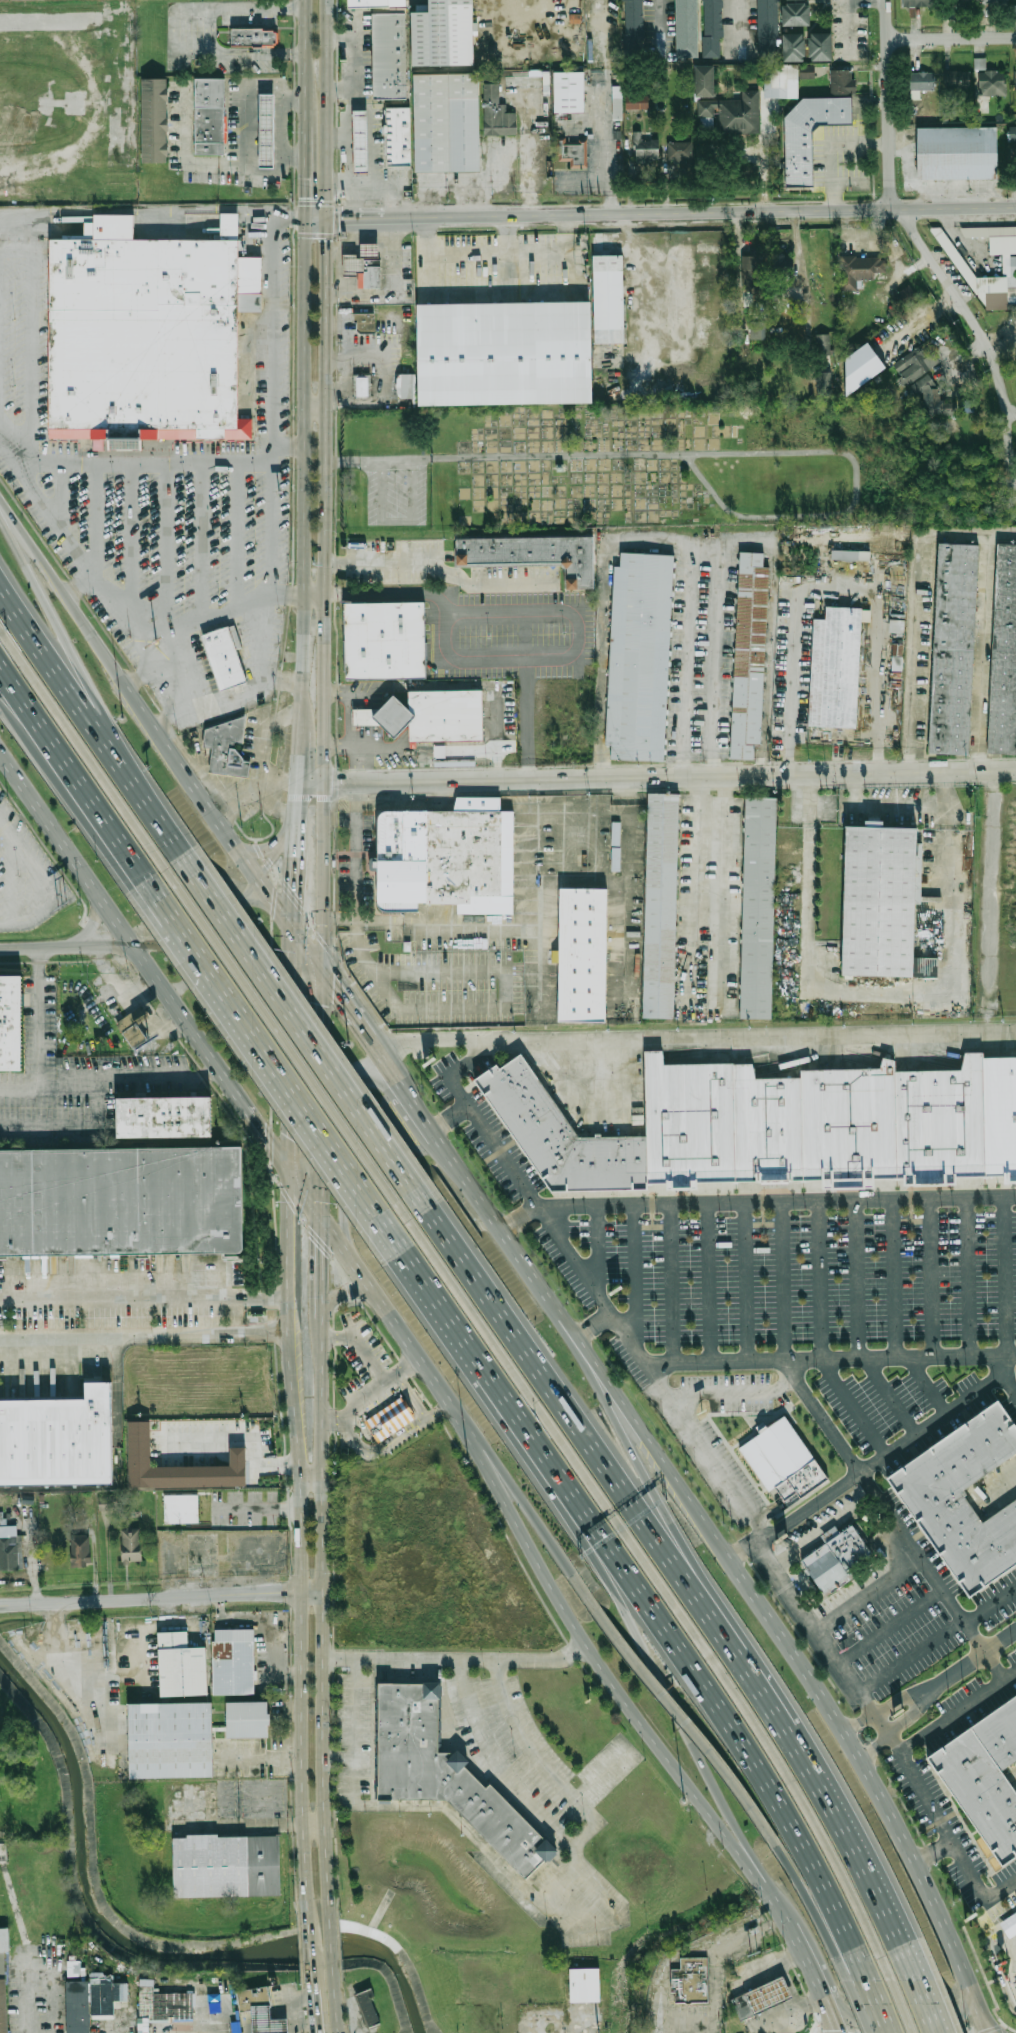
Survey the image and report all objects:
building: (798, 2)
building: (917, 3)
building: (996, 3)
road: (524, 4)
building: (376, 6)
building: (955, 6)
building: (1014, 10)
building: (634, 19)
building: (799, 19)
road: (655, 23)
road: (736, 24)
road: (847, 28)
building: (688, 33)
building: (711, 33)
building: (768, 33)
road: (172, 37)
road: (212, 38)
building: (445, 38)
road: (951, 39)
building: (254, 43)
road: (304, 47)
building: (797, 52)
building: (822, 52)
building: (391, 63)
building: (806, 71)
building: (989, 77)
building: (1015, 78)
building: (957, 80)
building: (922, 81)
building: (705, 87)
building: (843, 87)
building: (783, 88)
road: (246, 92)
building: (571, 98)
road: (94, 100)
building: (636, 101)
road: (352, 102)
road: (531, 106)
road: (608, 107)
building: (639, 108)
building: (619, 109)
building: (208, 115)
building: (734, 119)
building: (498, 120)
building: (387, 122)
building: (262, 126)
gas station: (262, 126)
building: (153, 127)
building: (447, 129)
building: (1012, 132)
road: (280, 137)
building: (811, 139)
building: (399, 142)
building: (362, 148)
gas station: (362, 148)
road: (833, 149)
building: (959, 150)
road: (346, 151)
building: (387, 151)
road: (185, 152)
building: (647, 154)
building: (682, 156)
road: (303, 157)
building: (574, 158)
road: (267, 170)
road: (534, 174)
road: (387, 189)
road: (354, 190)
traffic signals: (303, 202)
road: (156, 209)
road: (708, 212)
road: (19, 213)
road: (288, 221)
traffic signals: (291, 221)
traffic signals: (344, 223)
road: (351, 223)
traffic signals: (328, 248)
road: (552, 250)
road: (466, 252)
building: (371, 256)
gas station: (371, 256)
road: (925, 259)
building: (963, 262)
building: (352, 270)
gas station: (352, 270)
building: (763, 270)
building: (856, 270)
road: (799, 274)
building: (371, 280)
road: (466, 292)
building: (904, 296)
building: (609, 306)
road: (328, 311)
building: (366, 329)
building: (757, 329)
building: (141, 333)
road: (272, 333)
road: (29, 342)
building: (821, 343)
building: (506, 361)
road: (343, 364)
building: (910, 366)
building: (861, 368)
road: (384, 374)
building: (825, 378)
building: (362, 393)
building: (406, 393)
building: (932, 398)
road: (316, 404)
road: (353, 409)
building: (206, 416)
road: (1011, 416)
building: (158, 438)
road: (289, 445)
road: (304, 451)
road: (508, 457)
road: (152, 462)
park: (651, 468)
road: (63, 496)
road: (857, 498)
parking lot: (397, 501)
road: (336, 510)
road: (95, 516)
road: (396, 521)
road: (64, 530)
road: (270, 530)
road: (969, 535)
road: (236, 537)
road: (131, 540)
road: (200, 540)
road: (658, 542)
road: (166, 545)
road: (29, 546)
building: (850, 555)
building: (535, 561)
parking lot: (393, 567)
road: (442, 574)
road: (80, 582)
parking lot: (517, 582)
road: (315, 598)
road: (217, 615)
road: (552, 616)
road: (770, 633)
road: (93, 634)
parking lot: (516, 642)
road: (64, 645)
building: (387, 647)
building: (952, 649)
building: (226, 653)
building: (752, 655)
road: (915, 655)
road: (981, 655)
building: (642, 656)
building: (1002, 656)
building: (897, 657)
road: (880, 658)
road: (685, 662)
road: (157, 664)
building: (834, 669)
road: (142, 674)
road: (281, 677)
road: (63, 681)
road: (791, 682)
road: (302, 688)
road: (248, 690)
road: (464, 690)
road: (323, 706)
road: (347, 722)
building: (448, 722)
building: (385, 723)
road: (525, 727)
road: (160, 733)
road: (300, 741)
building: (230, 744)
road: (336, 751)
road: (87, 756)
road: (360, 776)
road: (63, 779)
road: (78, 782)
road: (670, 782)
road: (311, 788)
road: (669, 790)
road: (298, 802)
road: (210, 805)
road: (884, 809)
road: (162, 825)
road: (291, 827)
road: (65, 846)
road: (262, 849)
road: (356, 852)
road: (271, 856)
building: (448, 859)
road: (295, 871)
road: (611, 879)
road: (324, 881)
road: (34, 883)
road: (699, 898)
road: (722, 898)
road: (275, 900)
traffic signals: (294, 900)
building: (880, 902)
road: (991, 902)
building: (659, 905)
building: (757, 908)
road: (92, 922)
road: (494, 922)
road: (201, 925)
road: (91, 944)
road: (121, 945)
road: (35, 947)
road: (36, 953)
building: (585, 953)
road: (406, 974)
traffic signals: (332, 985)
road: (882, 993)
traffic signals: (324, 1005)
road: (347, 1006)
road: (430, 1012)
road: (36, 1020)
building: (9, 1022)
building: (132, 1027)
road: (305, 1031)
road: (779, 1033)
road: (457, 1040)
road: (289, 1044)
road: (285, 1045)
road: (266, 1059)
road: (391, 1070)
road: (210, 1071)
road: (147, 1078)
road: (65, 1080)
road: (322, 1093)
road: (349, 1093)
building: (162, 1116)
road: (446, 1116)
road: (398, 1120)
building: (828, 1121)
road: (69, 1126)
traffic signals: (264, 1132)
road: (434, 1132)
building: (559, 1135)
traffic signals: (287, 1136)
road: (276, 1148)
road: (478, 1196)
building: (119, 1201)
road: (775, 1203)
road: (518, 1219)
traffic signals: (321, 1251)
road: (595, 1252)
road: (321, 1255)
road: (634, 1276)
road: (1004, 1276)
road: (970, 1277)
road: (930, 1278)
parking lot: (806, 1279)
road: (893, 1279)
road: (821, 1280)
road: (857, 1280)
road: (782, 1281)
road: (746, 1282)
road: (710, 1283)
road: (538, 1284)
road: (670, 1284)
road: (122, 1288)
road: (344, 1293)
road: (266, 1297)
road: (322, 1310)
road: (322, 1329)
road: (592, 1329)
road: (265, 1331)
road: (122, 1336)
road: (360, 1346)
road: (473, 1356)
road: (829, 1358)
parking lot: (367, 1370)
road: (650, 1380)
road: (1007, 1381)
road: (928, 1384)
road: (731, 1390)
road: (369, 1391)
road: (411, 1394)
road: (890, 1395)
road: (562, 1403)
parking lot: (883, 1403)
road: (448, 1404)
road: (852, 1407)
road: (437, 1410)
building: (391, 1419)
road: (421, 1420)
road: (352, 1434)
road: (246, 1437)
building: (59, 1438)
road: (391, 1442)
building: (141, 1456)
road: (872, 1461)
building: (781, 1462)
road: (494, 1468)
road: (489, 1469)
road: (310, 1475)
road: (642, 1479)
building: (962, 1497)
building: (181, 1506)
road: (882, 1507)
road: (260, 1508)
road: (878, 1526)
road: (820, 1529)
building: (828, 1534)
road: (828, 1534)
road: (297, 1536)
road: (810, 1544)
building: (130, 1545)
building: (80, 1550)
road: (557, 1550)
road: (904, 1551)
building: (11, 1553)
building: (834, 1557)
building: (837, 1583)
road: (666, 1591)
road: (867, 1596)
road: (162, 1598)
road: (988, 1606)
road: (324, 1621)
road: (889, 1629)
road: (909, 1657)
road: (478, 1660)
building: (235, 1662)
road: (994, 1663)
building: (184, 1665)
road: (656, 1672)
road: (804, 1673)
road: (607, 1675)
road: (948, 1676)
road: (352, 1705)
road: (956, 1709)
building: (248, 1719)
road: (860, 1720)
road: (693, 1723)
road: (733, 1726)
parking lot: (354, 1739)
building: (172, 1740)
road: (876, 1744)
parking lot: (608, 1757)
parking lot: (523, 1763)
building: (445, 1773)
building: (984, 1777)
road: (822, 1807)
road: (312, 1826)
road: (943, 1826)
road: (468, 1831)
road: (571, 1844)
road: (933, 1851)
road: (750, 1855)
road: (746, 1858)
building: (227, 1866)
road: (759, 1872)
parking lot: (590, 1898)
road: (818, 1905)
building: (1012, 1921)
road: (783, 1927)
building: (3, 1939)
road: (331, 1944)
road: (27, 1945)
road: (310, 1947)
river: (134, 1948)
road: (806, 1954)
road: (993, 1960)
building: (72, 1968)
building: (690, 1981)
building: (584, 1984)
road: (867, 1990)
building: (103, 1994)
building: (768, 1995)
building: (2, 1996)
building: (255, 1998)
road: (335, 2006)
building: (743, 2006)
building: (75, 2007)
building: (160, 2007)
building: (368, 2007)
road: (314, 2009)
road: (713, 2014)
road: (906, 2018)
road: (931, 2018)
road: (878, 2019)
building: (268, 2022)
gas station: (268, 2022)
road: (712, 2024)
traffic signals: (840, 2029)
road: (918, 2030)

